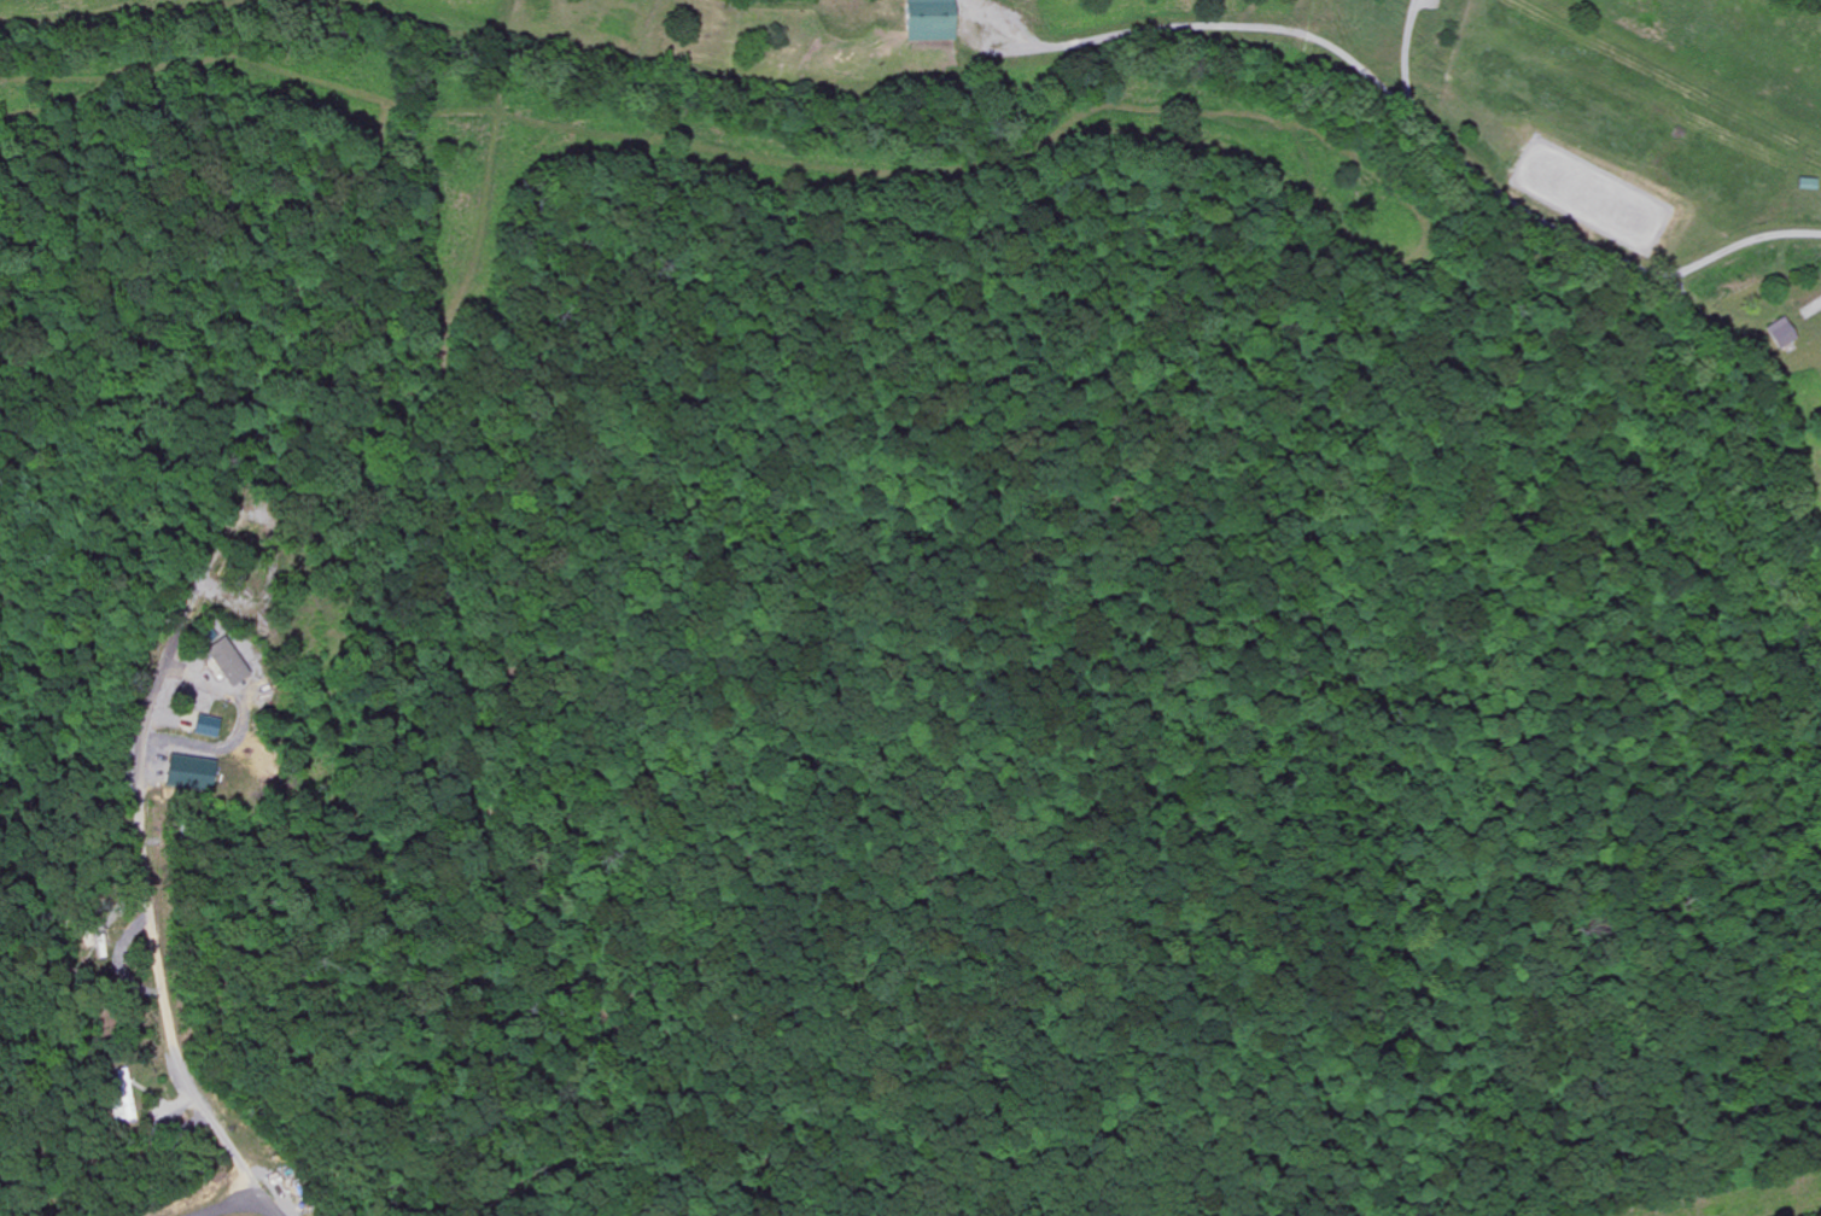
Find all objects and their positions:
building: (933, 21)
building: (1784, 332)
building: (226, 660)
building: (187, 682)
building: (205, 725)
building: (188, 772)
road: (148, 951)
building: (123, 1098)
road: (1125, 1100)
road: (234, 1209)

